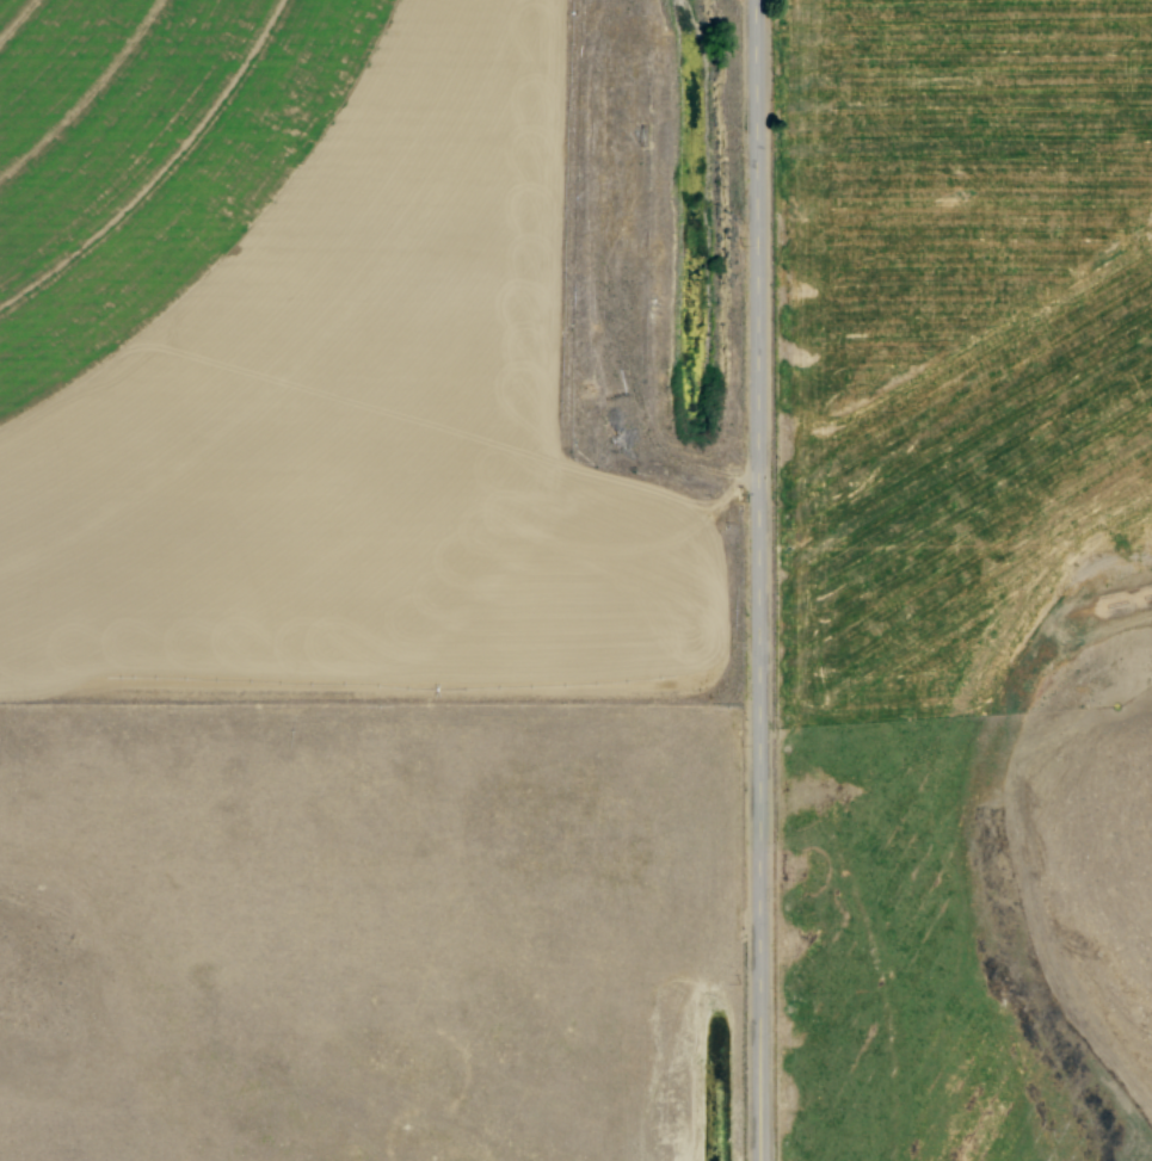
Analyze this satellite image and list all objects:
wastewater plant: (670, 205)
road: (751, 580)

